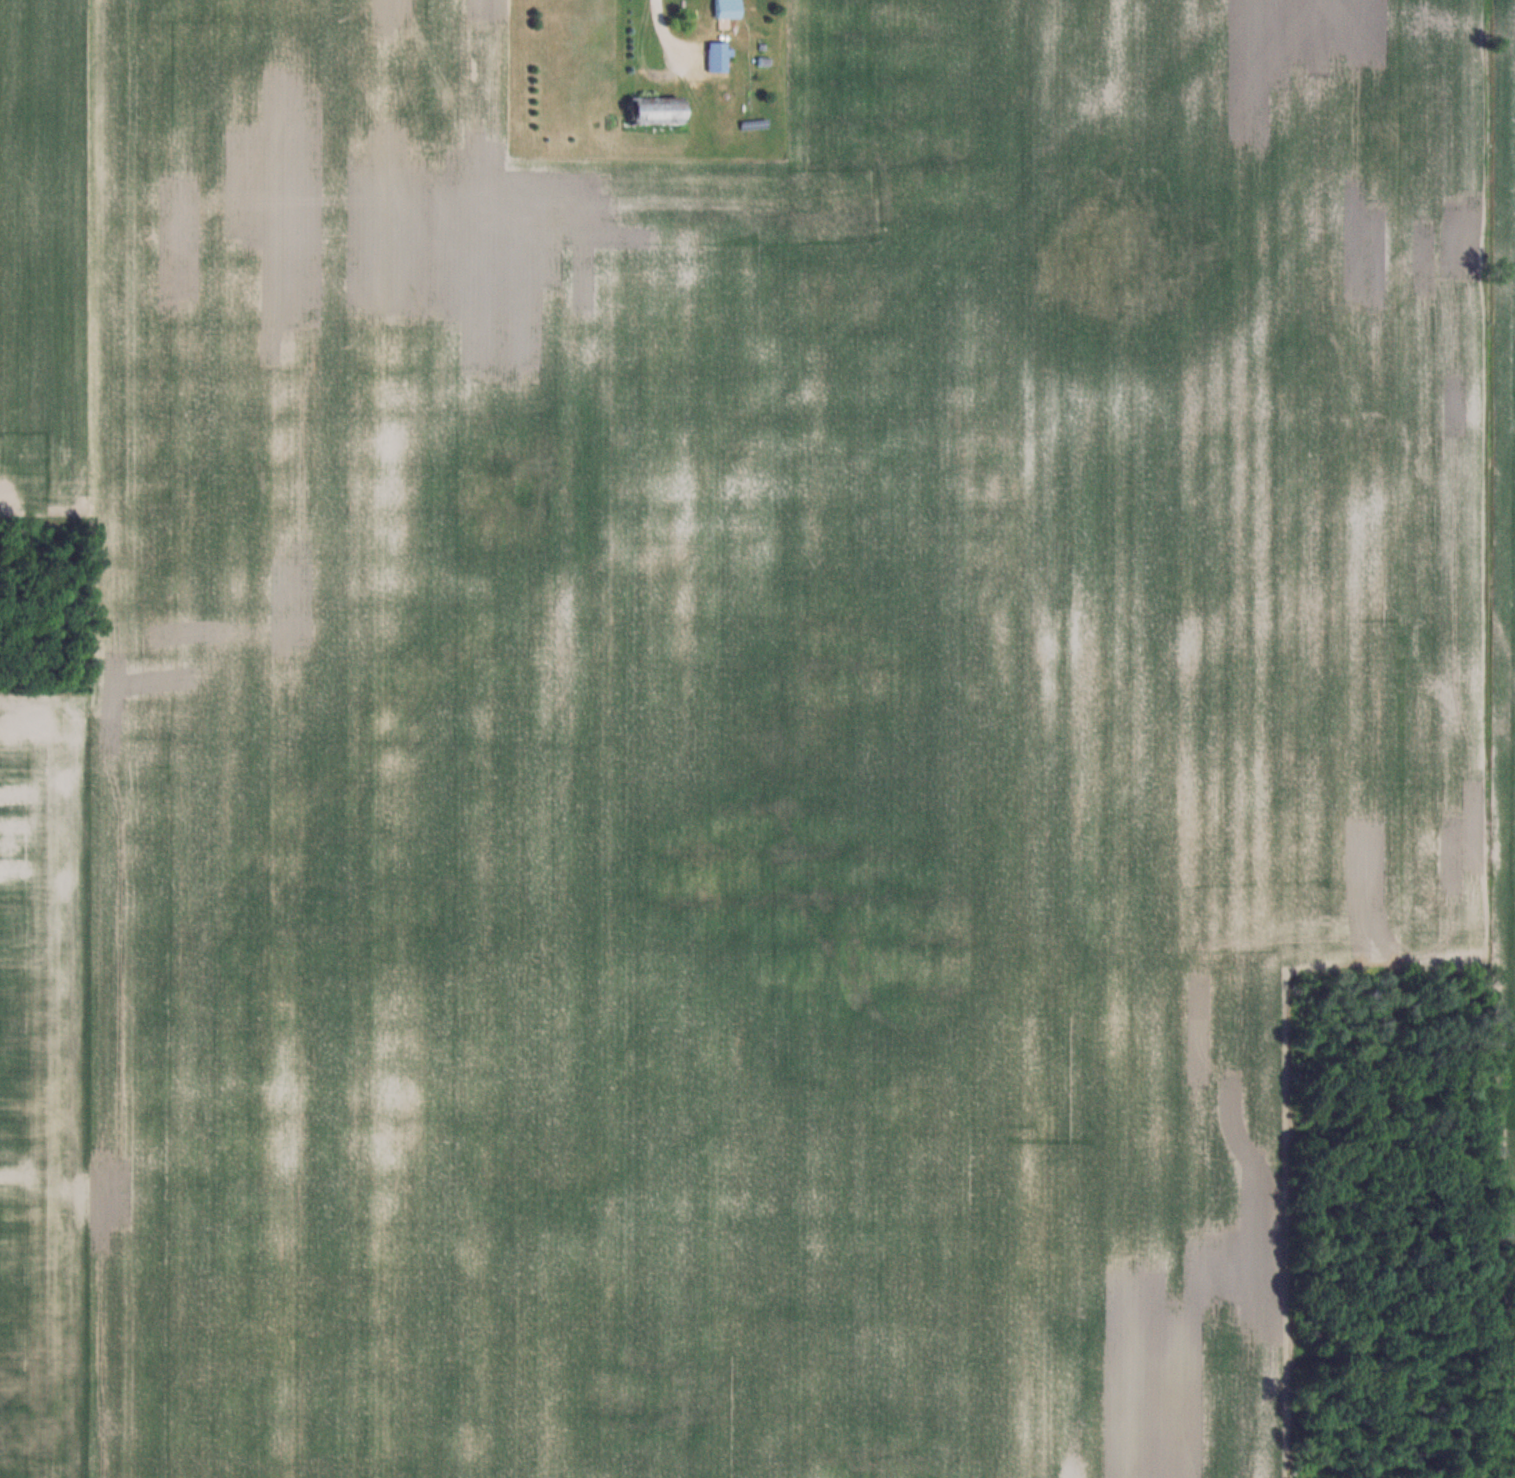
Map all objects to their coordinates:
building: (729, 8)
road: (662, 31)
building: (720, 56)
building: (662, 110)

